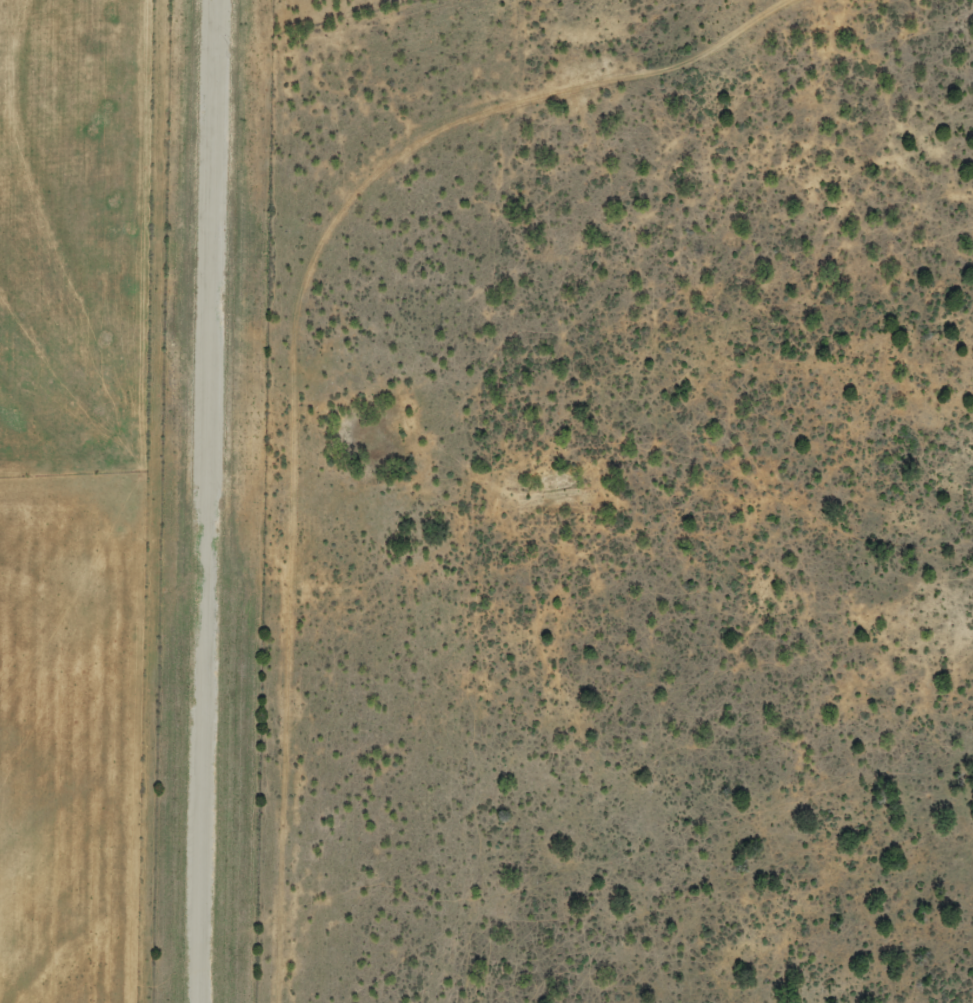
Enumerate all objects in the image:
road: (593, 70)
airport runway: (206, 501)

